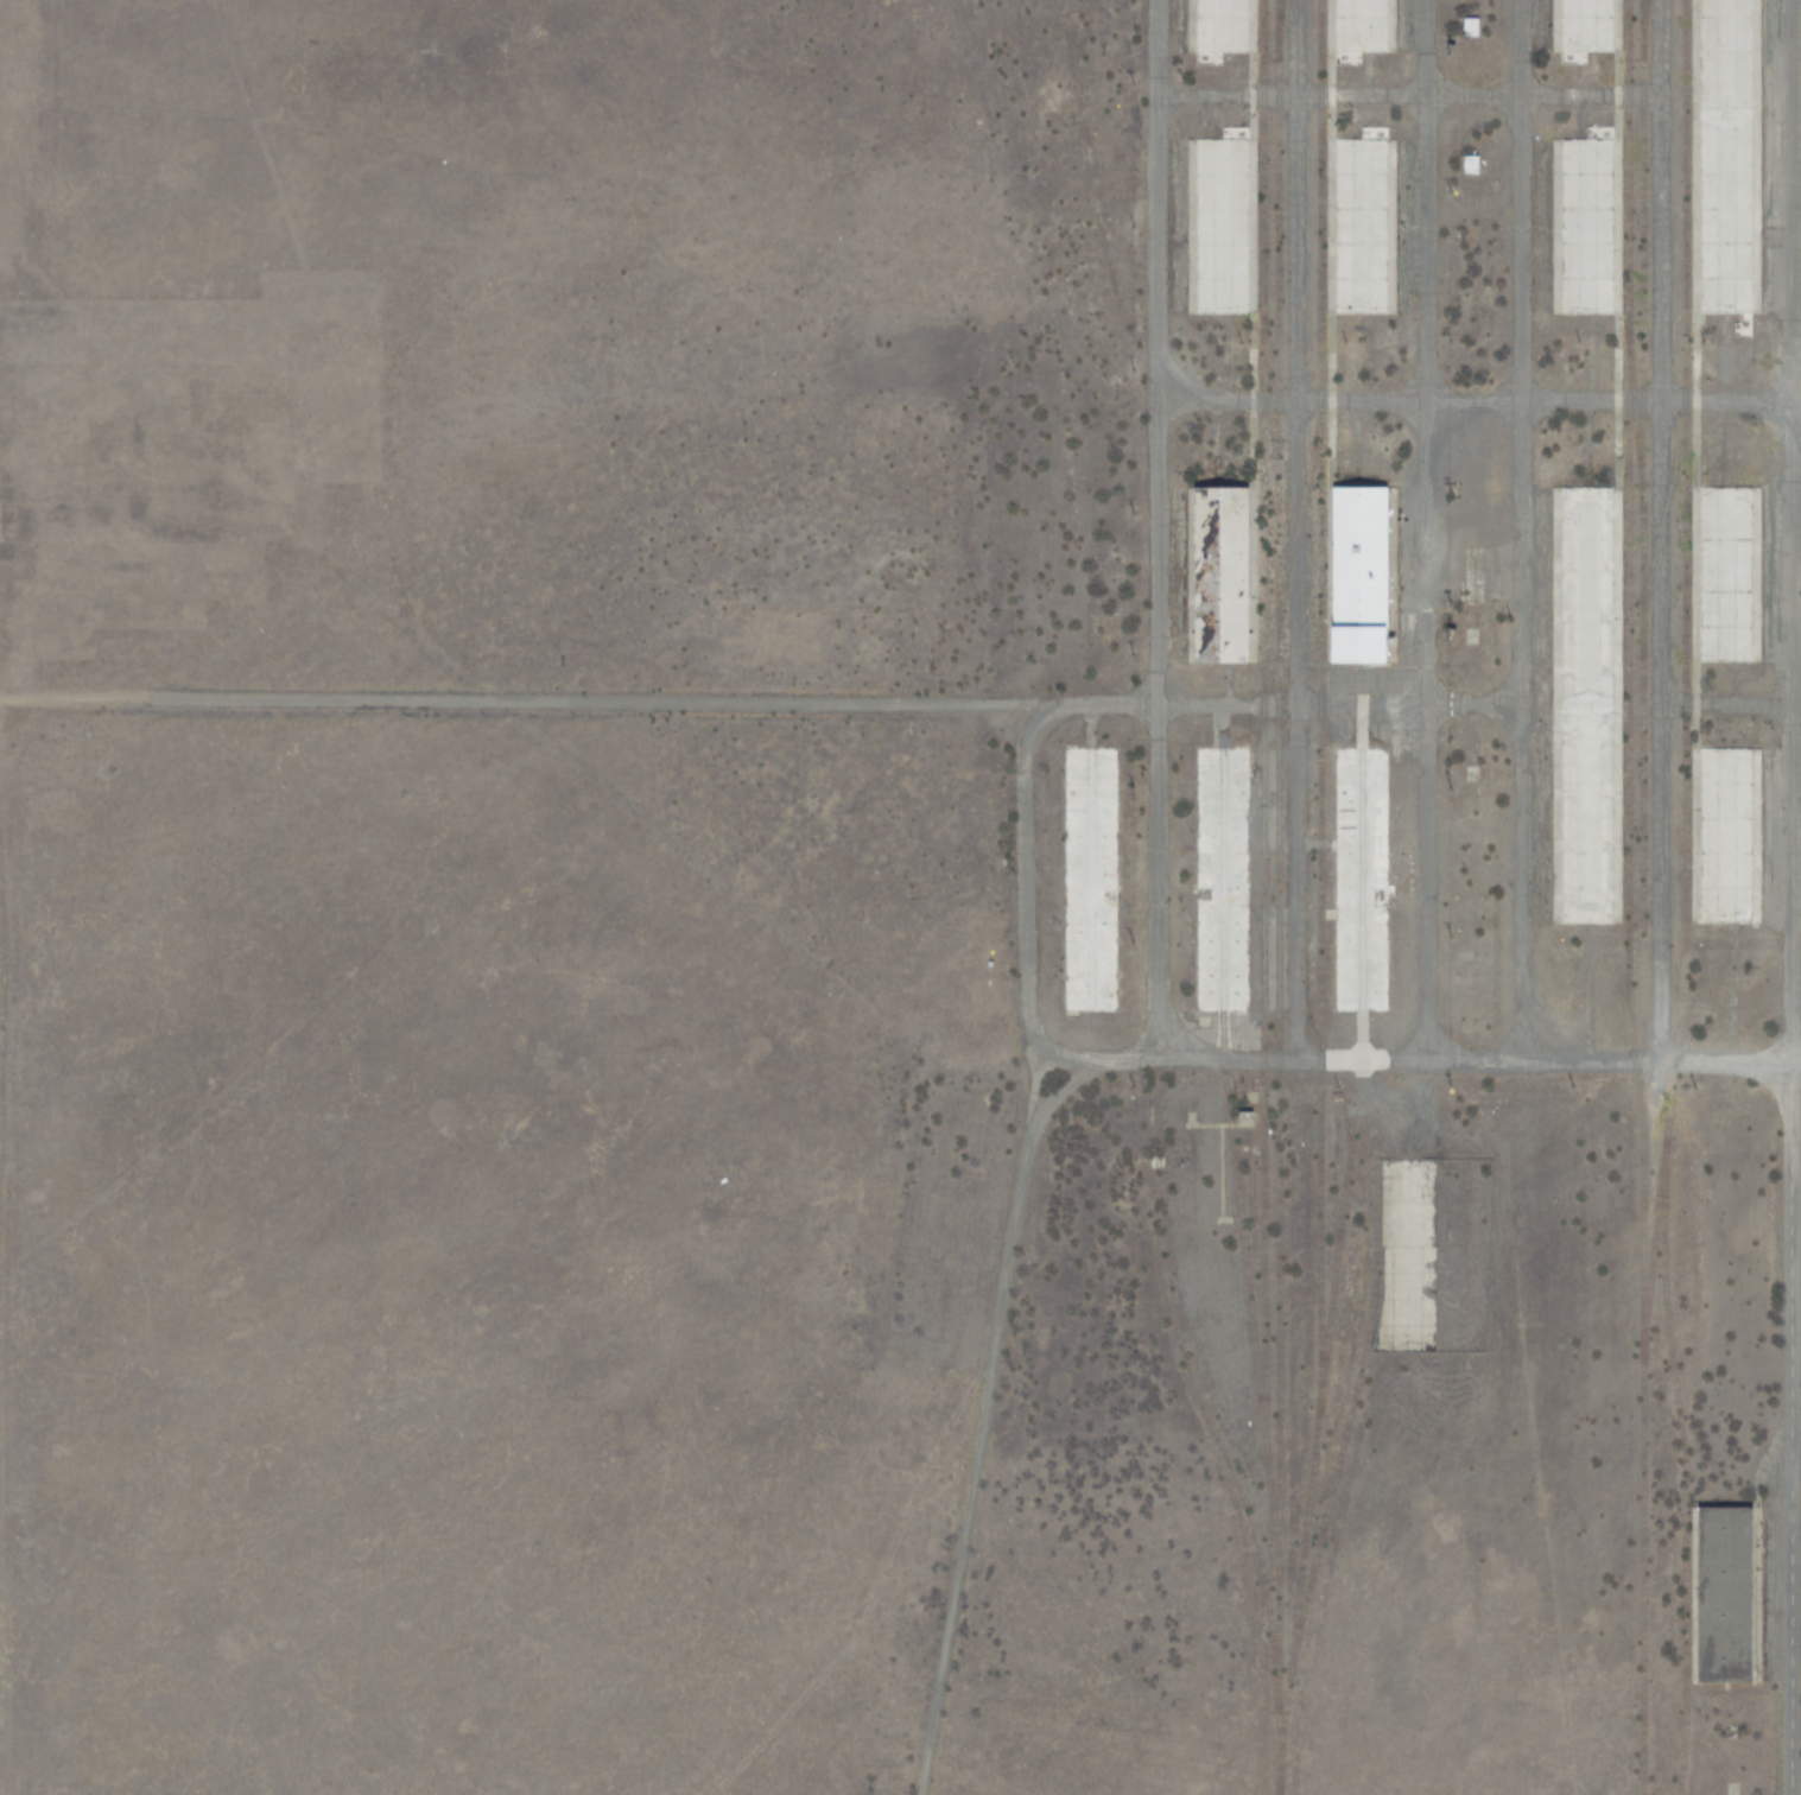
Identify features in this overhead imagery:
building: (1470, 21)
building: (1361, 26)
building: (1586, 27)
building: (1219, 30)
railway: (1277, 33)
building: (1725, 158)
building: (1470, 160)
building: (1587, 223)
building: (1222, 224)
building: (1361, 224)
railway: (1300, 508)
road: (1153, 531)
road: (1427, 535)
road: (1509, 539)
building: (1359, 566)
building: (1223, 571)
building: (1724, 575)
road: (576, 703)
building: (1583, 704)
railway: (1262, 781)
building: (1726, 835)
building: (1220, 879)
building: (1358, 879)
building: (1087, 880)
railway: (1276, 880)
railway: (1318, 897)
railway: (1642, 897)
road: (1789, 897)
road: (1415, 1070)
railway: (1332, 1264)
railway: (1191, 1382)
railway: (1349, 1414)
building: (1726, 1594)

